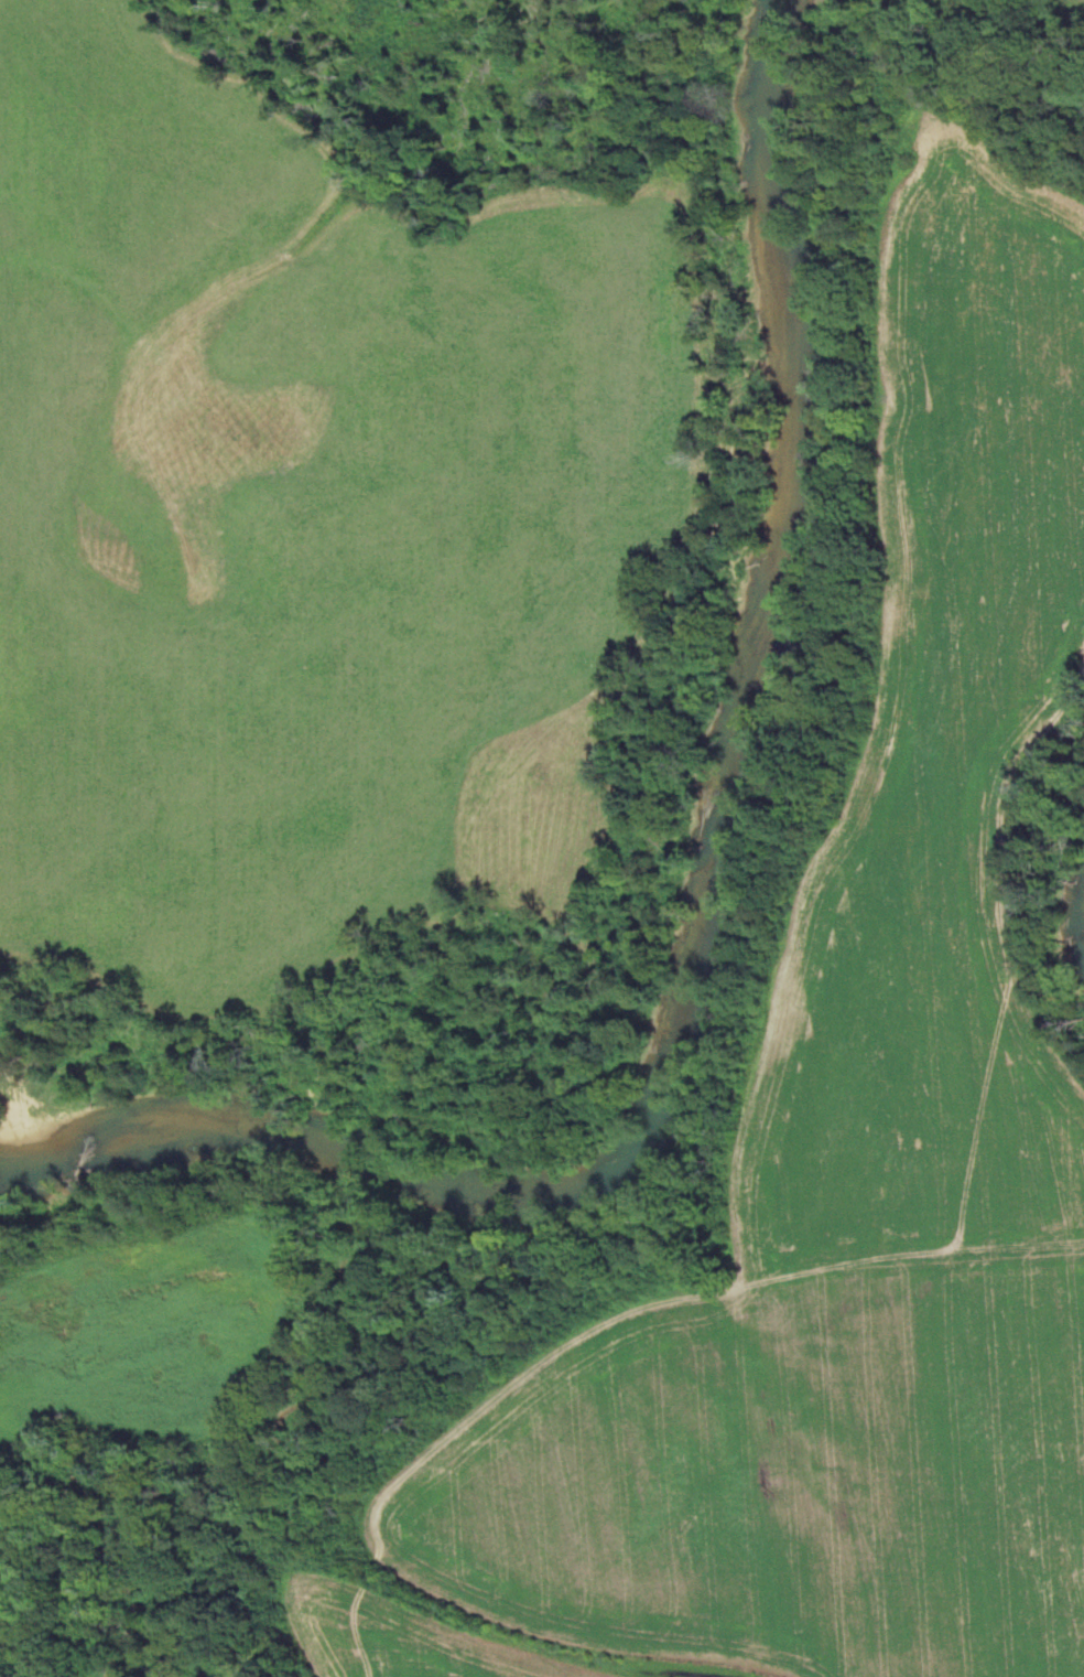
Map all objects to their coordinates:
river: (693, 907)
river: (1083, 916)

